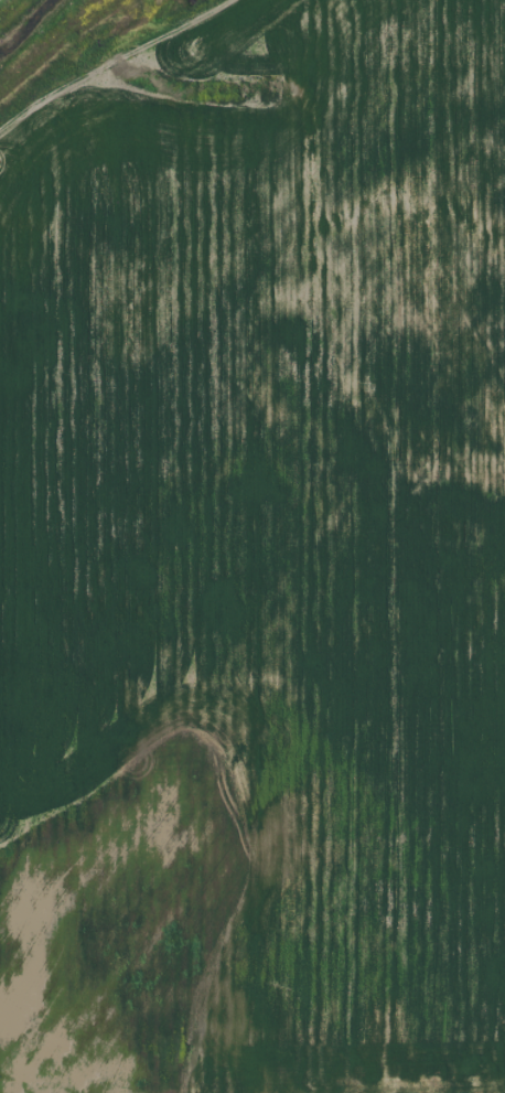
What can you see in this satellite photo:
river: (36, 30)

